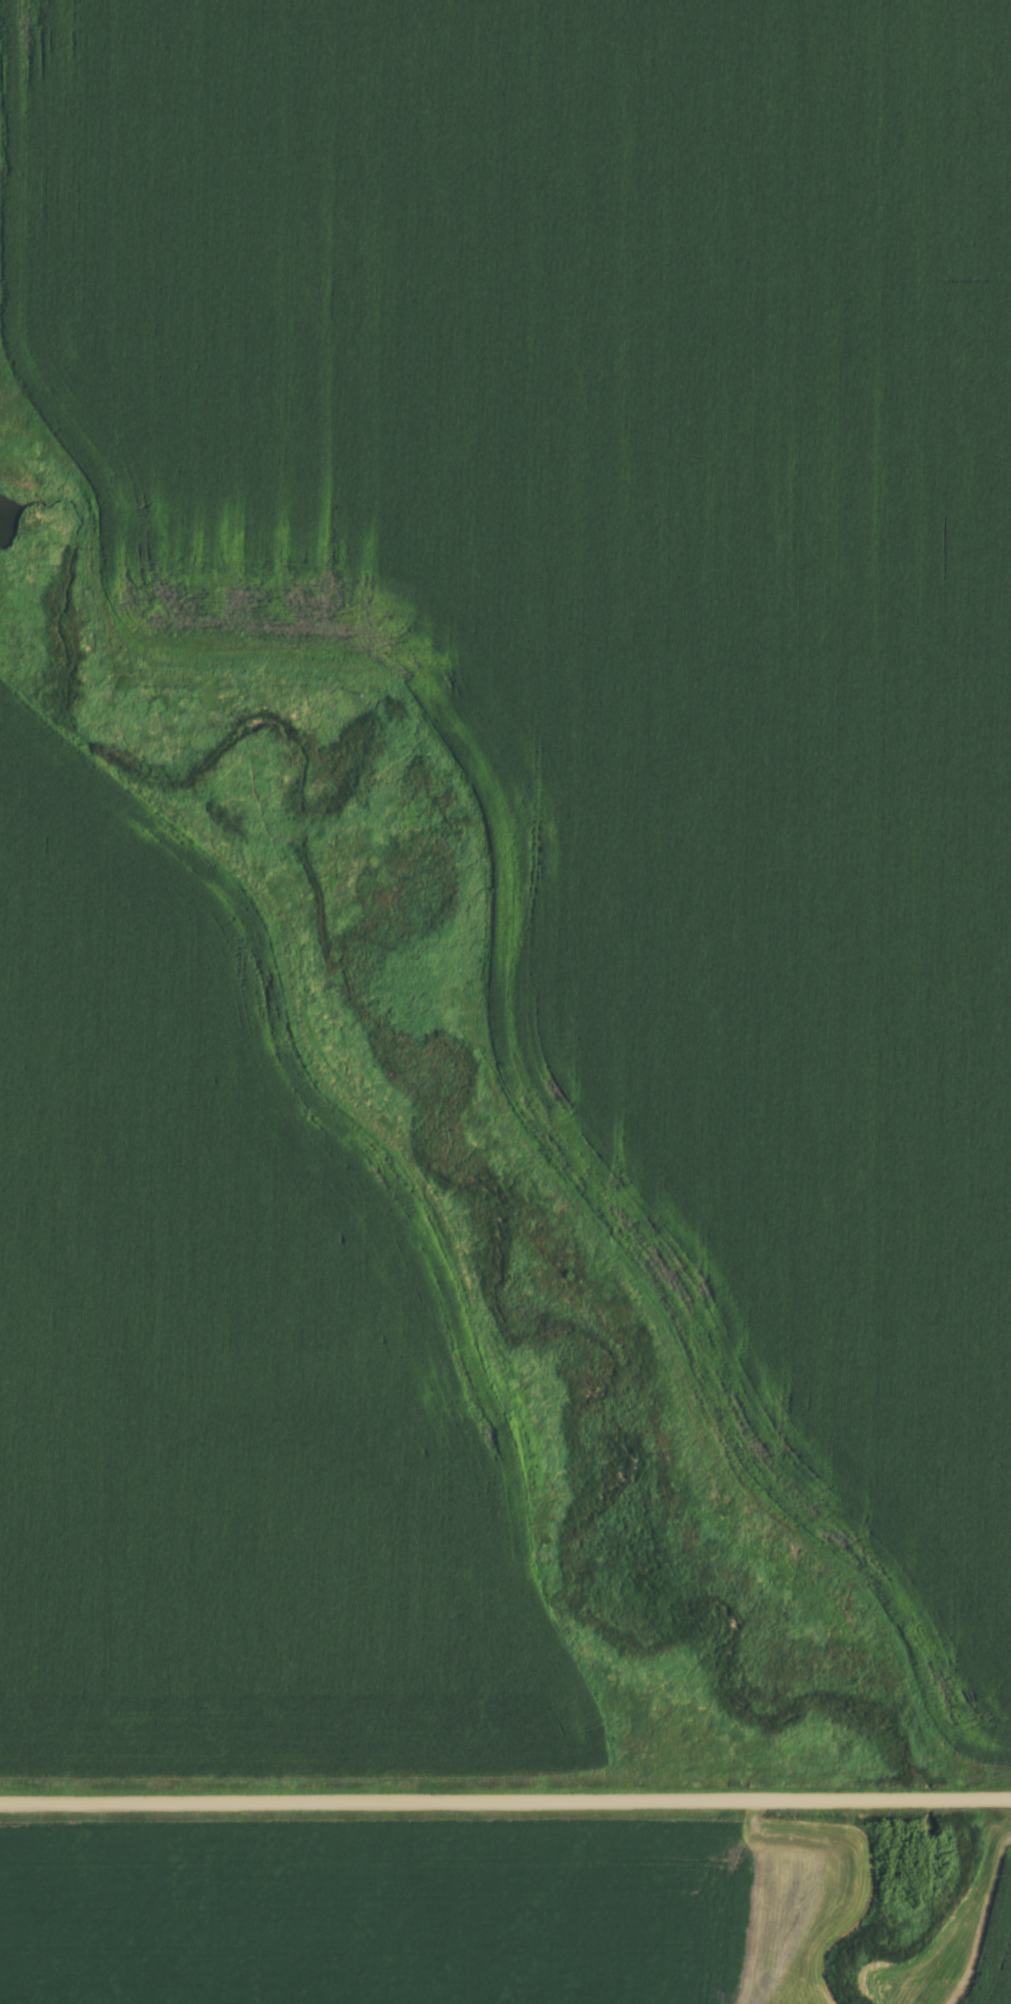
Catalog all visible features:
road: (505, 1797)

